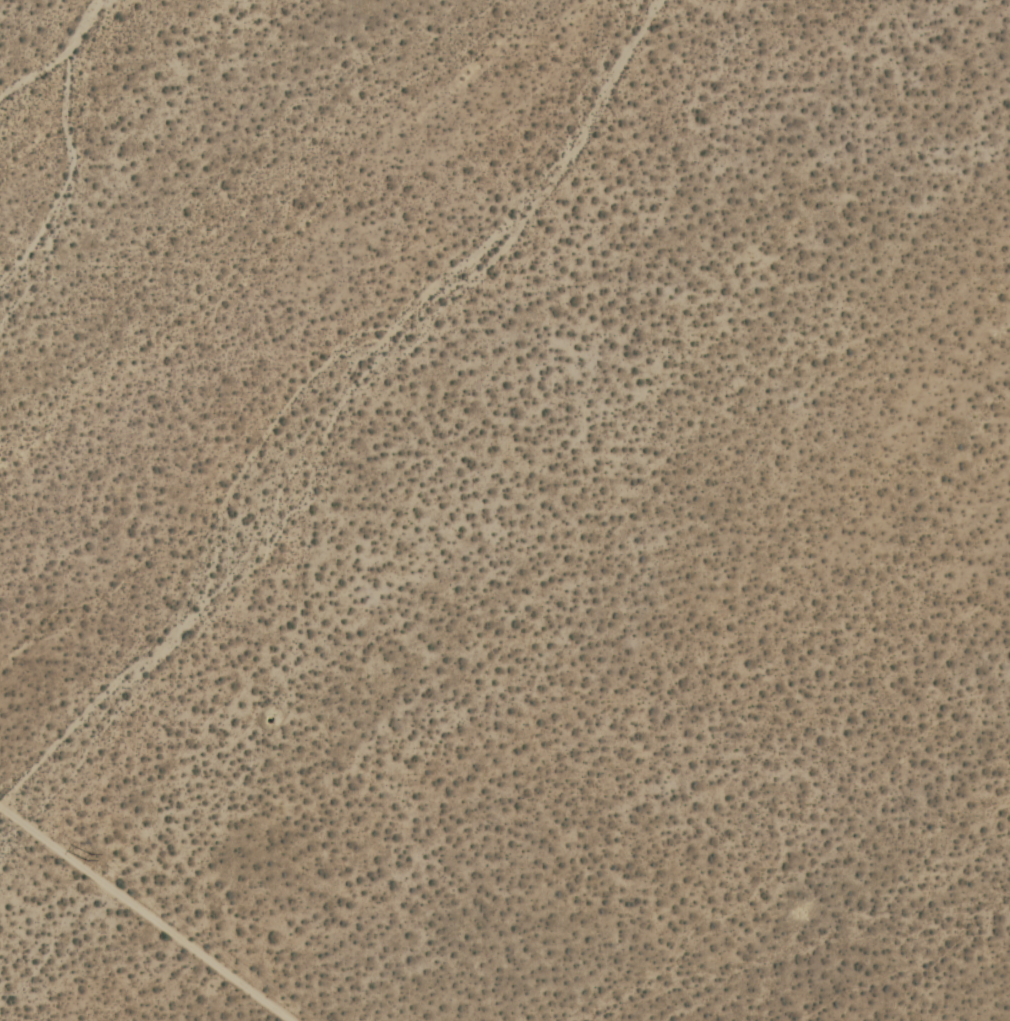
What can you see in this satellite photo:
power tower: (90, 860)
road: (144, 914)

